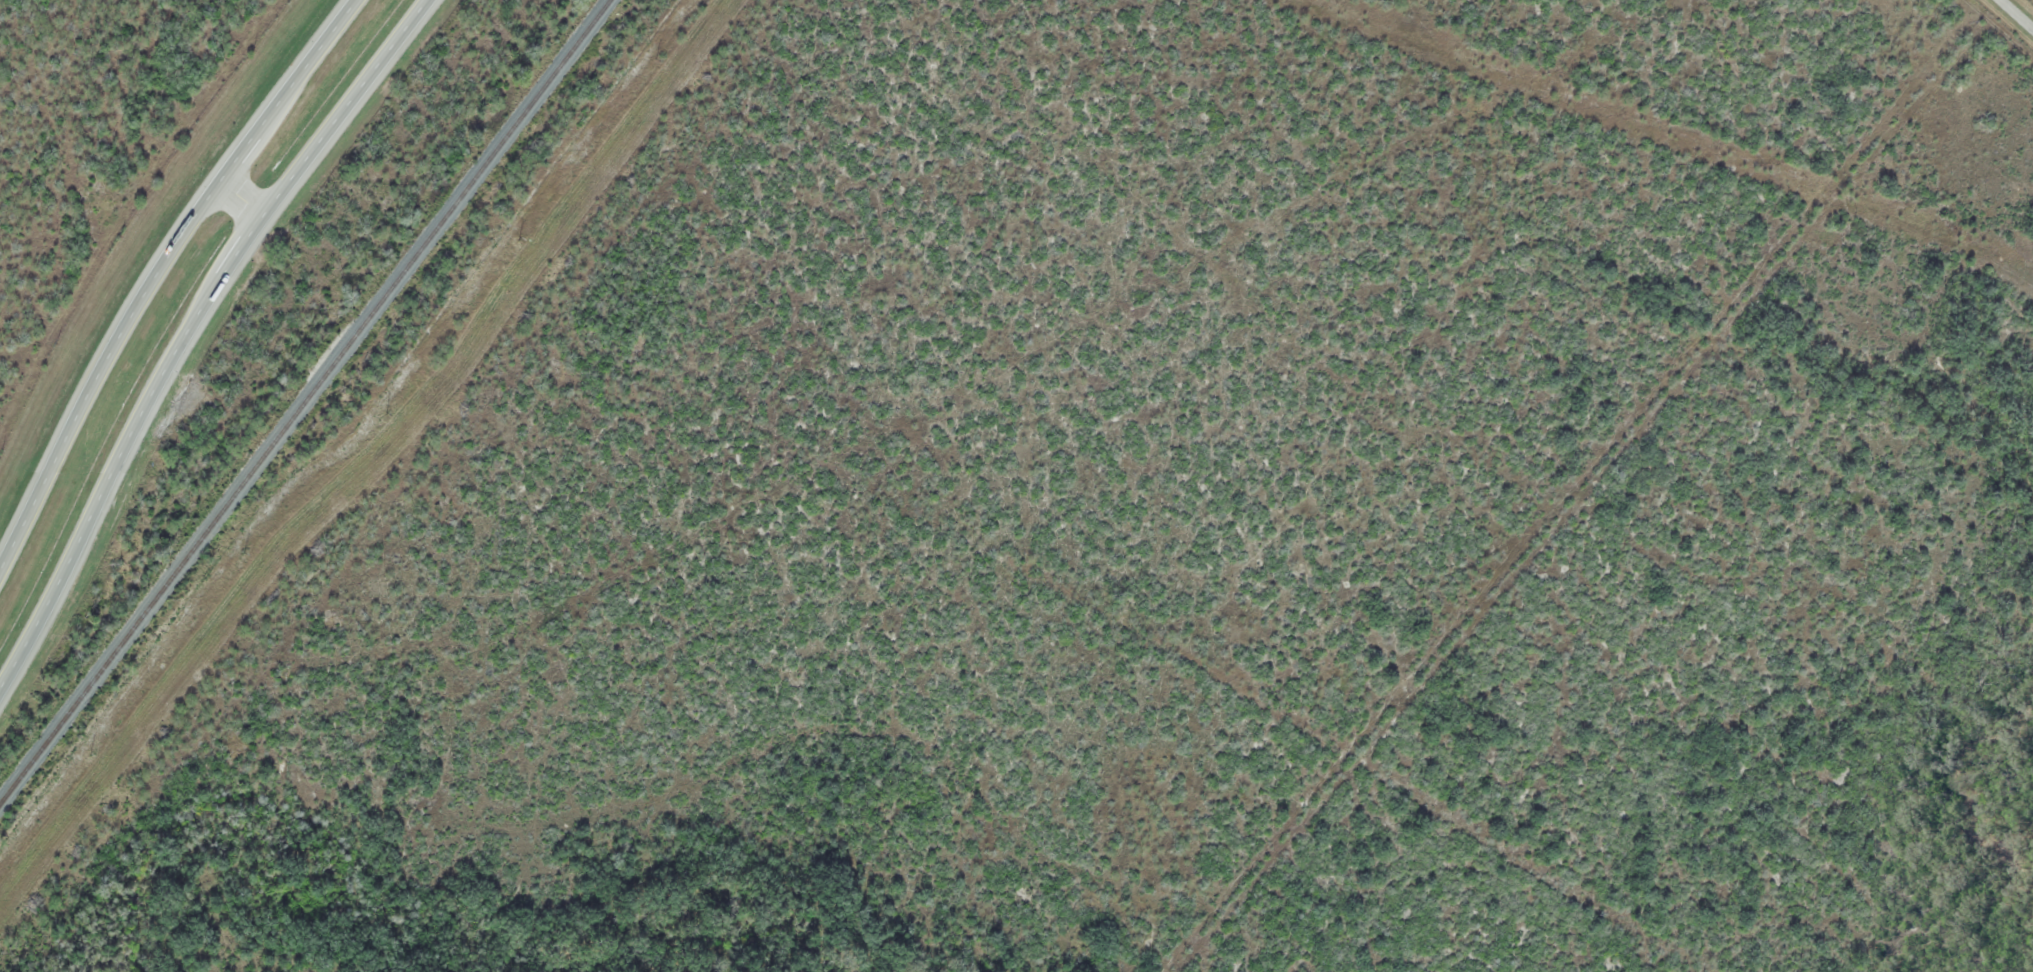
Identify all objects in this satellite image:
road: (2010, 20)
road: (249, 199)
road: (163, 277)
road: (200, 332)
railway: (305, 400)

